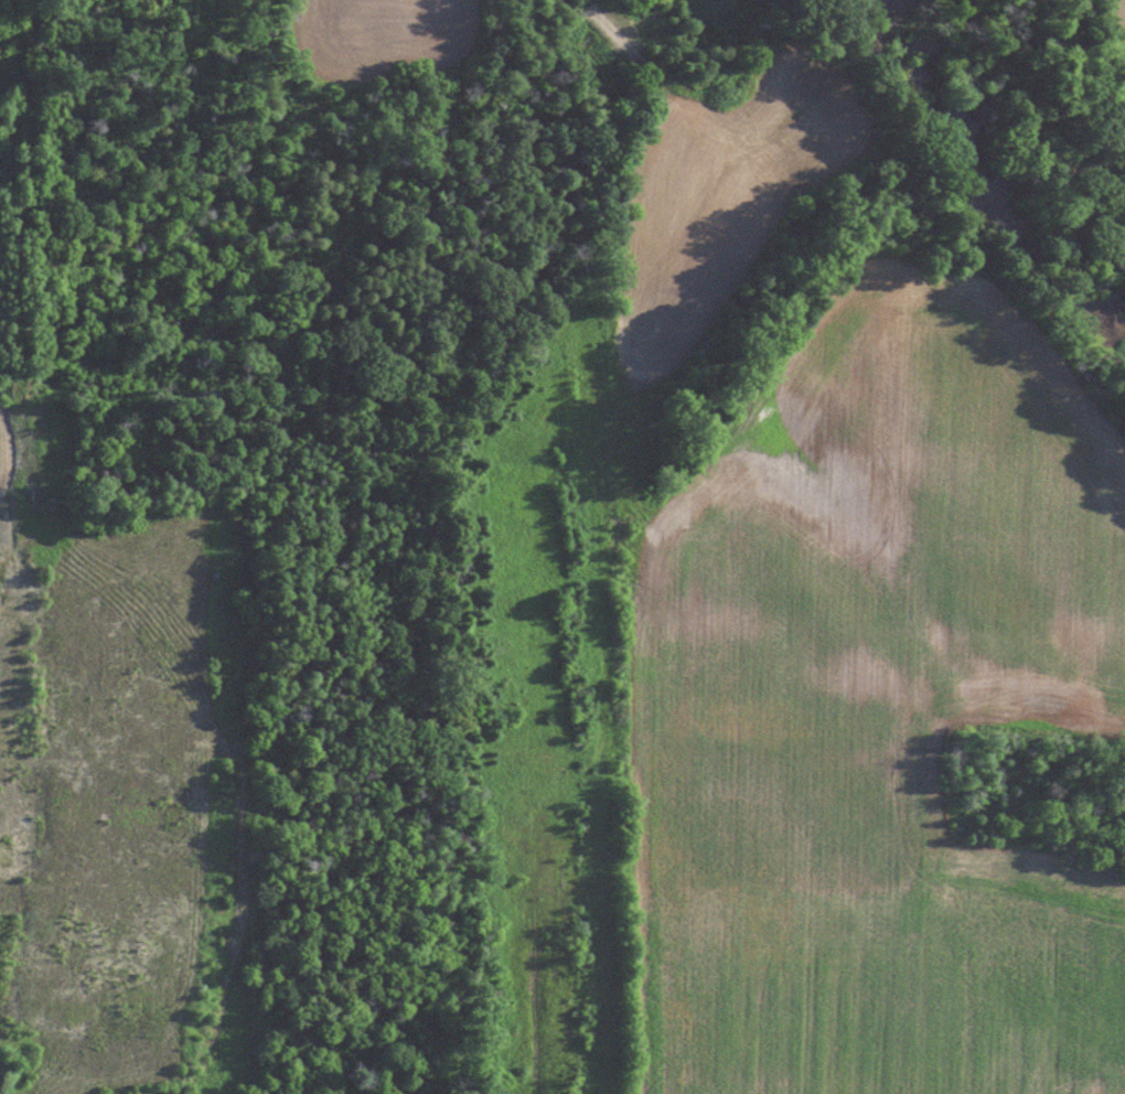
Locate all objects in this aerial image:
river: (985, 172)

